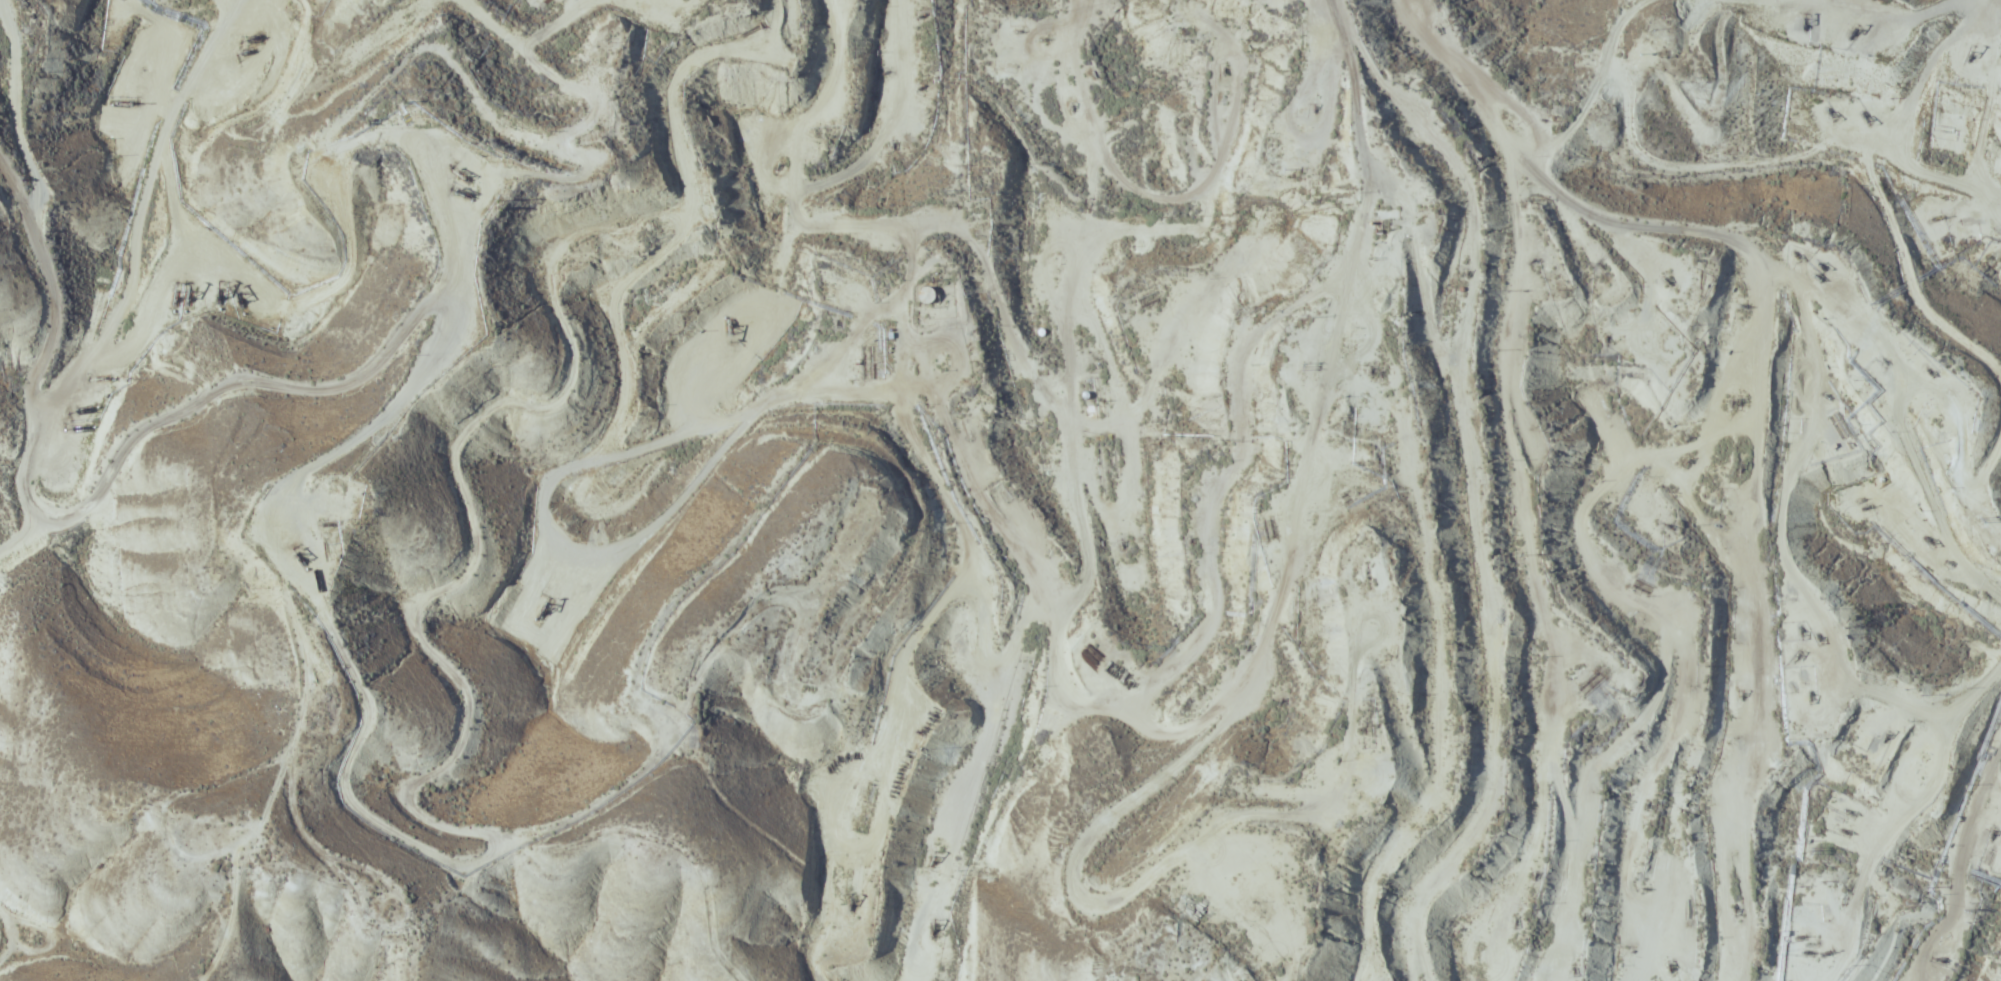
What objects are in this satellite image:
road: (241, 14)
road: (1595, 89)
building: (458, 184)
road: (135, 215)
road: (1680, 229)
building: (1035, 243)
building: (923, 297)
road: (338, 452)
road: (1626, 469)
road: (98, 490)
road: (1982, 498)
road: (209, 790)
road: (527, 841)
road: (1856, 858)

